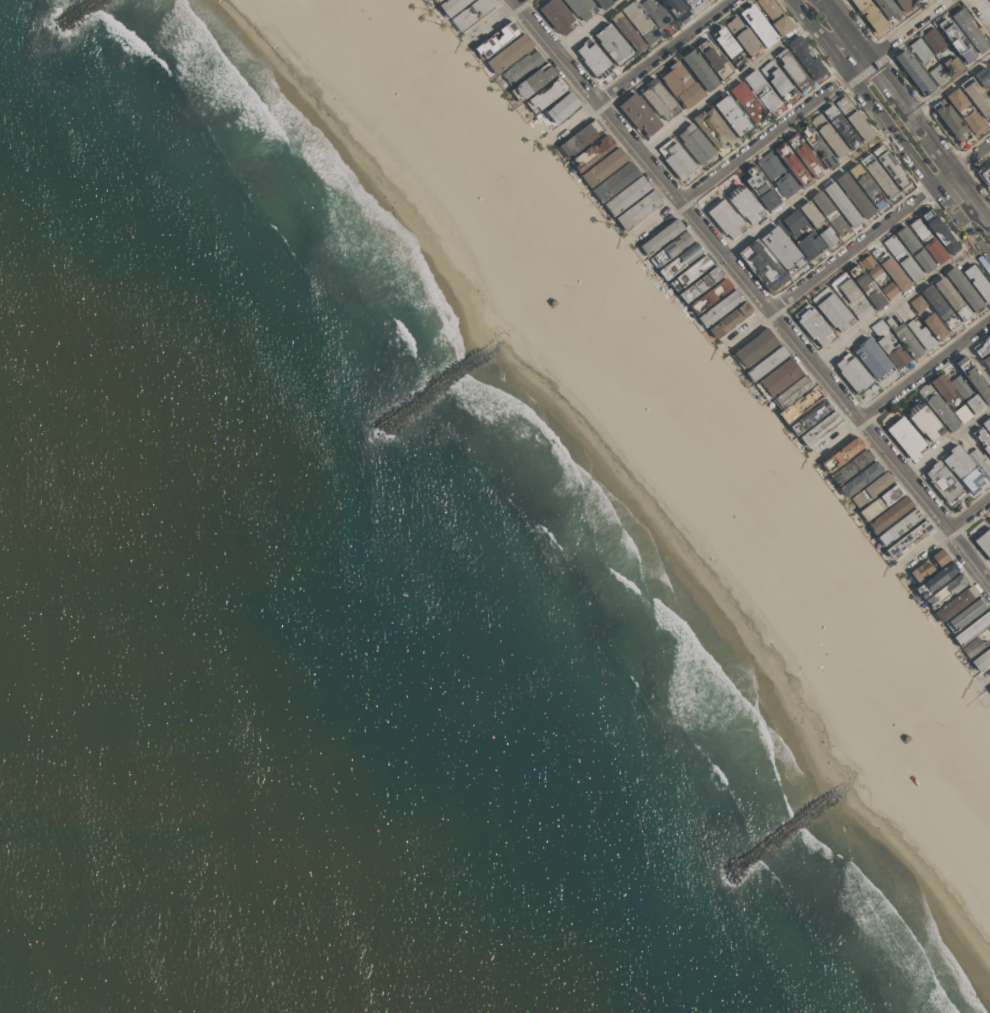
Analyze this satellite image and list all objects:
building: (436, 0)
building: (612, 0)
building: (708, 0)
building: (915, 0)
building: (917, 0)
road: (516, 1)
building: (603, 3)
building: (692, 3)
road: (832, 3)
building: (904, 4)
building: (452, 5)
building: (581, 7)
building: (887, 8)
building: (676, 9)
road: (982, 9)
building: (470, 13)
building: (656, 13)
building: (869, 14)
building: (557, 15)
building: (775, 16)
road: (493, 20)
building: (640, 21)
road: (811, 23)
building: (758, 24)
road: (592, 27)
building: (968, 29)
building: (627, 31)
building: (743, 36)
building: (496, 39)
building: (933, 40)
building: (955, 40)
building: (613, 43)
building: (727, 45)
building: (920, 50)
road: (663, 51)
road: (863, 52)
building: (509, 53)
building: (806, 57)
building: (593, 58)
building: (714, 59)
road: (839, 60)
building: (988, 63)
building: (952, 64)
building: (520, 67)
building: (699, 68)
building: (791, 68)
building: (914, 72)
building: (938, 74)
building: (982, 76)
building: (775, 77)
building: (532, 81)
building: (680, 84)
road: (950, 84)
road: (724, 87)
building: (761, 90)
building: (545, 95)
building: (989, 95)
building: (976, 96)
building: (659, 98)
building: (747, 101)
road: (811, 102)
building: (561, 107)
building: (966, 111)
building: (639, 113)
building: (731, 114)
building: (853, 117)
road: (576, 119)
building: (951, 120)
building: (841, 127)
building: (713, 128)
building: (828, 135)
building: (580, 138)
road: (928, 139)
building: (696, 143)
building: (816, 145)
building: (592, 151)
building: (805, 155)
building: (676, 159)
building: (793, 164)
building: (603, 166)
building: (891, 166)
road: (919, 167)
building: (776, 173)
building: (984, 173)
building: (878, 176)
building: (615, 181)
building: (867, 185)
road: (965, 187)
building: (760, 188)
building: (626, 195)
road: (809, 195)
building: (854, 195)
building: (745, 203)
building: (842, 204)
building: (638, 209)
road: (982, 212)
building: (811, 213)
building: (830, 213)
building: (725, 218)
road: (660, 220)
road: (880, 229)
building: (939, 231)
building: (794, 234)
building: (826, 235)
building: (660, 236)
building: (928, 241)
building: (670, 248)
building: (914, 248)
building: (782, 249)
building: (902, 258)
building: (680, 260)
building: (761, 263)
building: (872, 268)
building: (893, 271)
building: (690, 272)
building: (977, 282)
building: (700, 283)
building: (865, 286)
building: (964, 289)
road: (752, 290)
building: (889, 290)
building: (709, 295)
building: (850, 295)
building: (951, 298)
building: (917, 303)
road: (896, 305)
building: (720, 307)
building: (939, 307)
building: (832, 309)
building: (729, 319)
building: (813, 324)
building: (878, 326)
building: (934, 326)
road: (749, 329)
building: (921, 335)
building: (904, 337)
building: (982, 346)
building: (754, 348)
building: (893, 352)
building: (872, 358)
road: (977, 360)
building: (986, 360)
building: (766, 362)
building: (989, 371)
building: (852, 372)
road: (924, 372)
building: (778, 377)
building: (973, 378)
building: (943, 387)
building: (792, 391)
building: (966, 393)
building: (800, 404)
building: (937, 406)
building: (961, 412)
building: (809, 416)
building: (924, 420)
building: (986, 424)
building: (819, 427)
road: (840, 436)
building: (905, 437)
building: (982, 439)
road: (947, 444)
building: (841, 454)
building: (981, 461)
building: (850, 466)
building: (962, 469)
building: (860, 478)
building: (942, 481)
building: (871, 489)
building: (880, 502)
building: (889, 514)
road: (969, 514)
building: (898, 526)
building: (908, 538)
building: (983, 540)
road: (925, 547)
building: (939, 557)
building: (921, 570)
building: (936, 579)
building: (945, 590)
building: (955, 602)
building: (965, 613)
building: (989, 626)
building: (971, 628)
building: (972, 647)
building: (981, 659)
road: (985, 678)
road: (985, 688)
building: (989, 688)
building: (989, 689)

